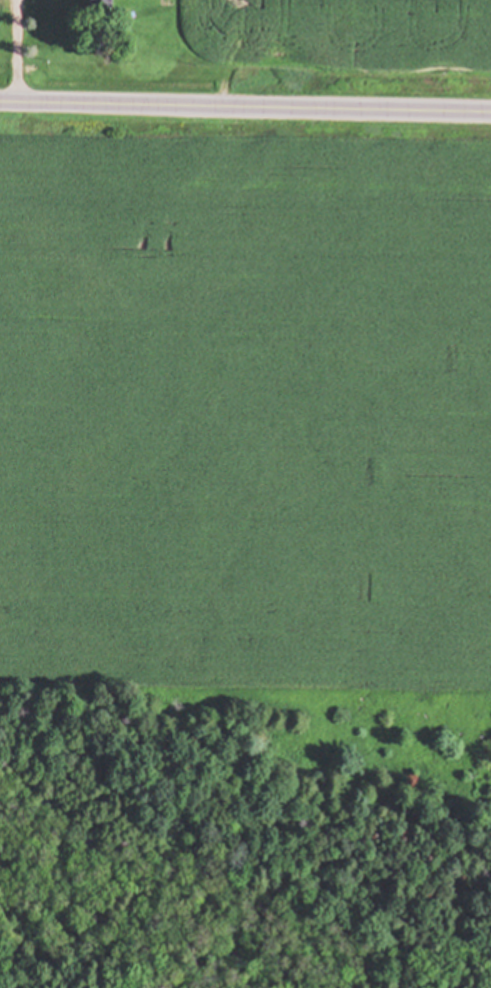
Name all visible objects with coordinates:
building: (103, 5)
road: (245, 108)

